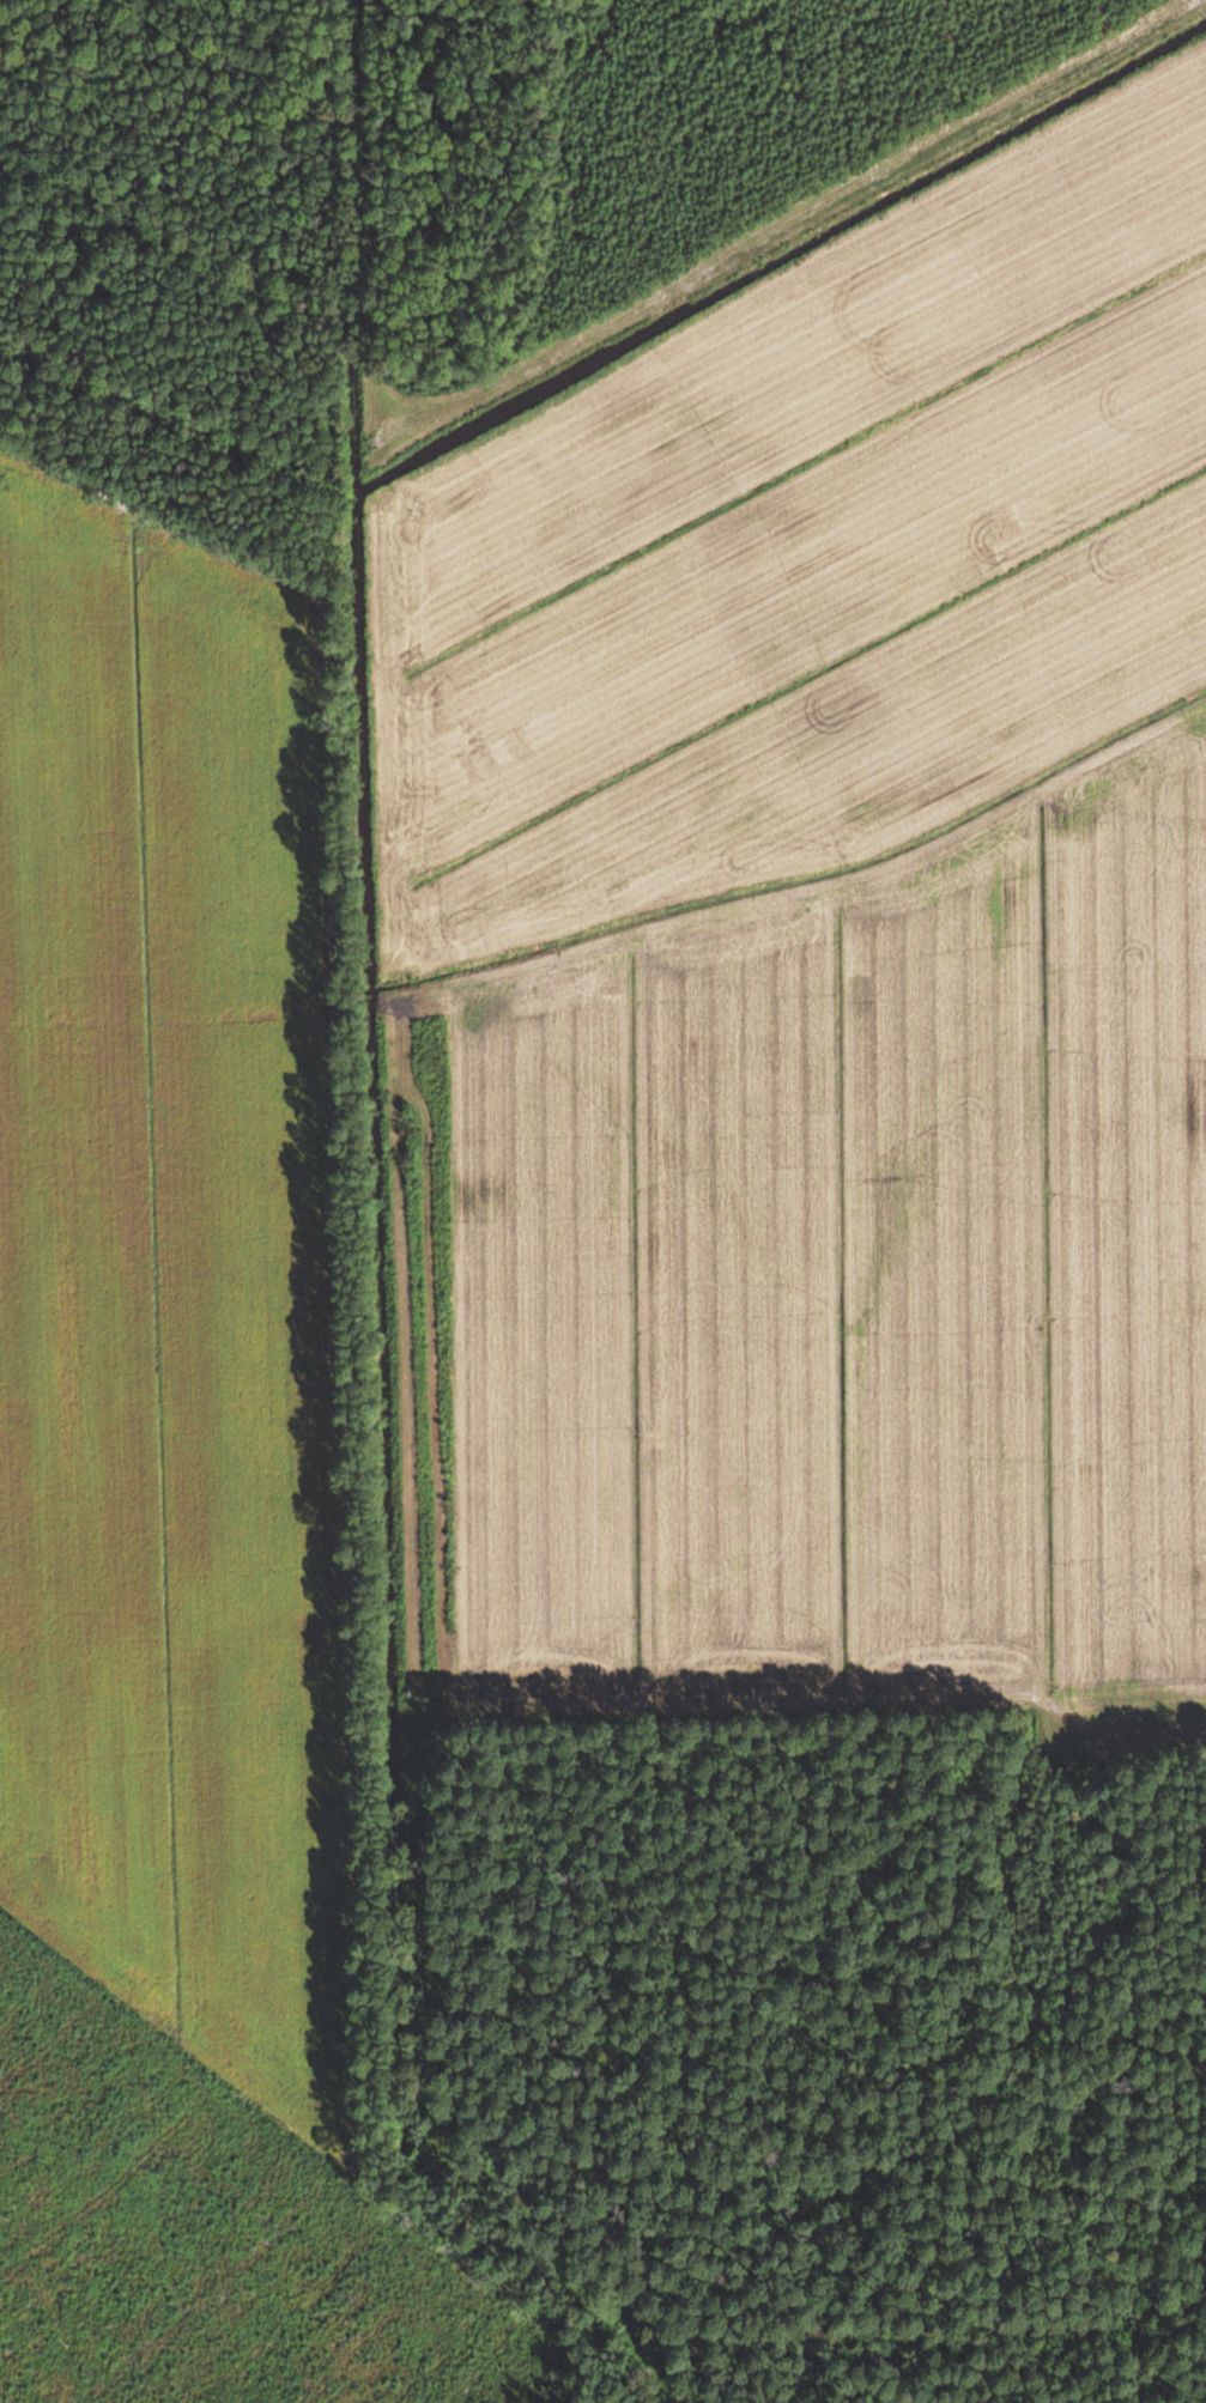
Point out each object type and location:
crop: (823, 963)
road: (402, 1249)
road: (1134, 1730)

